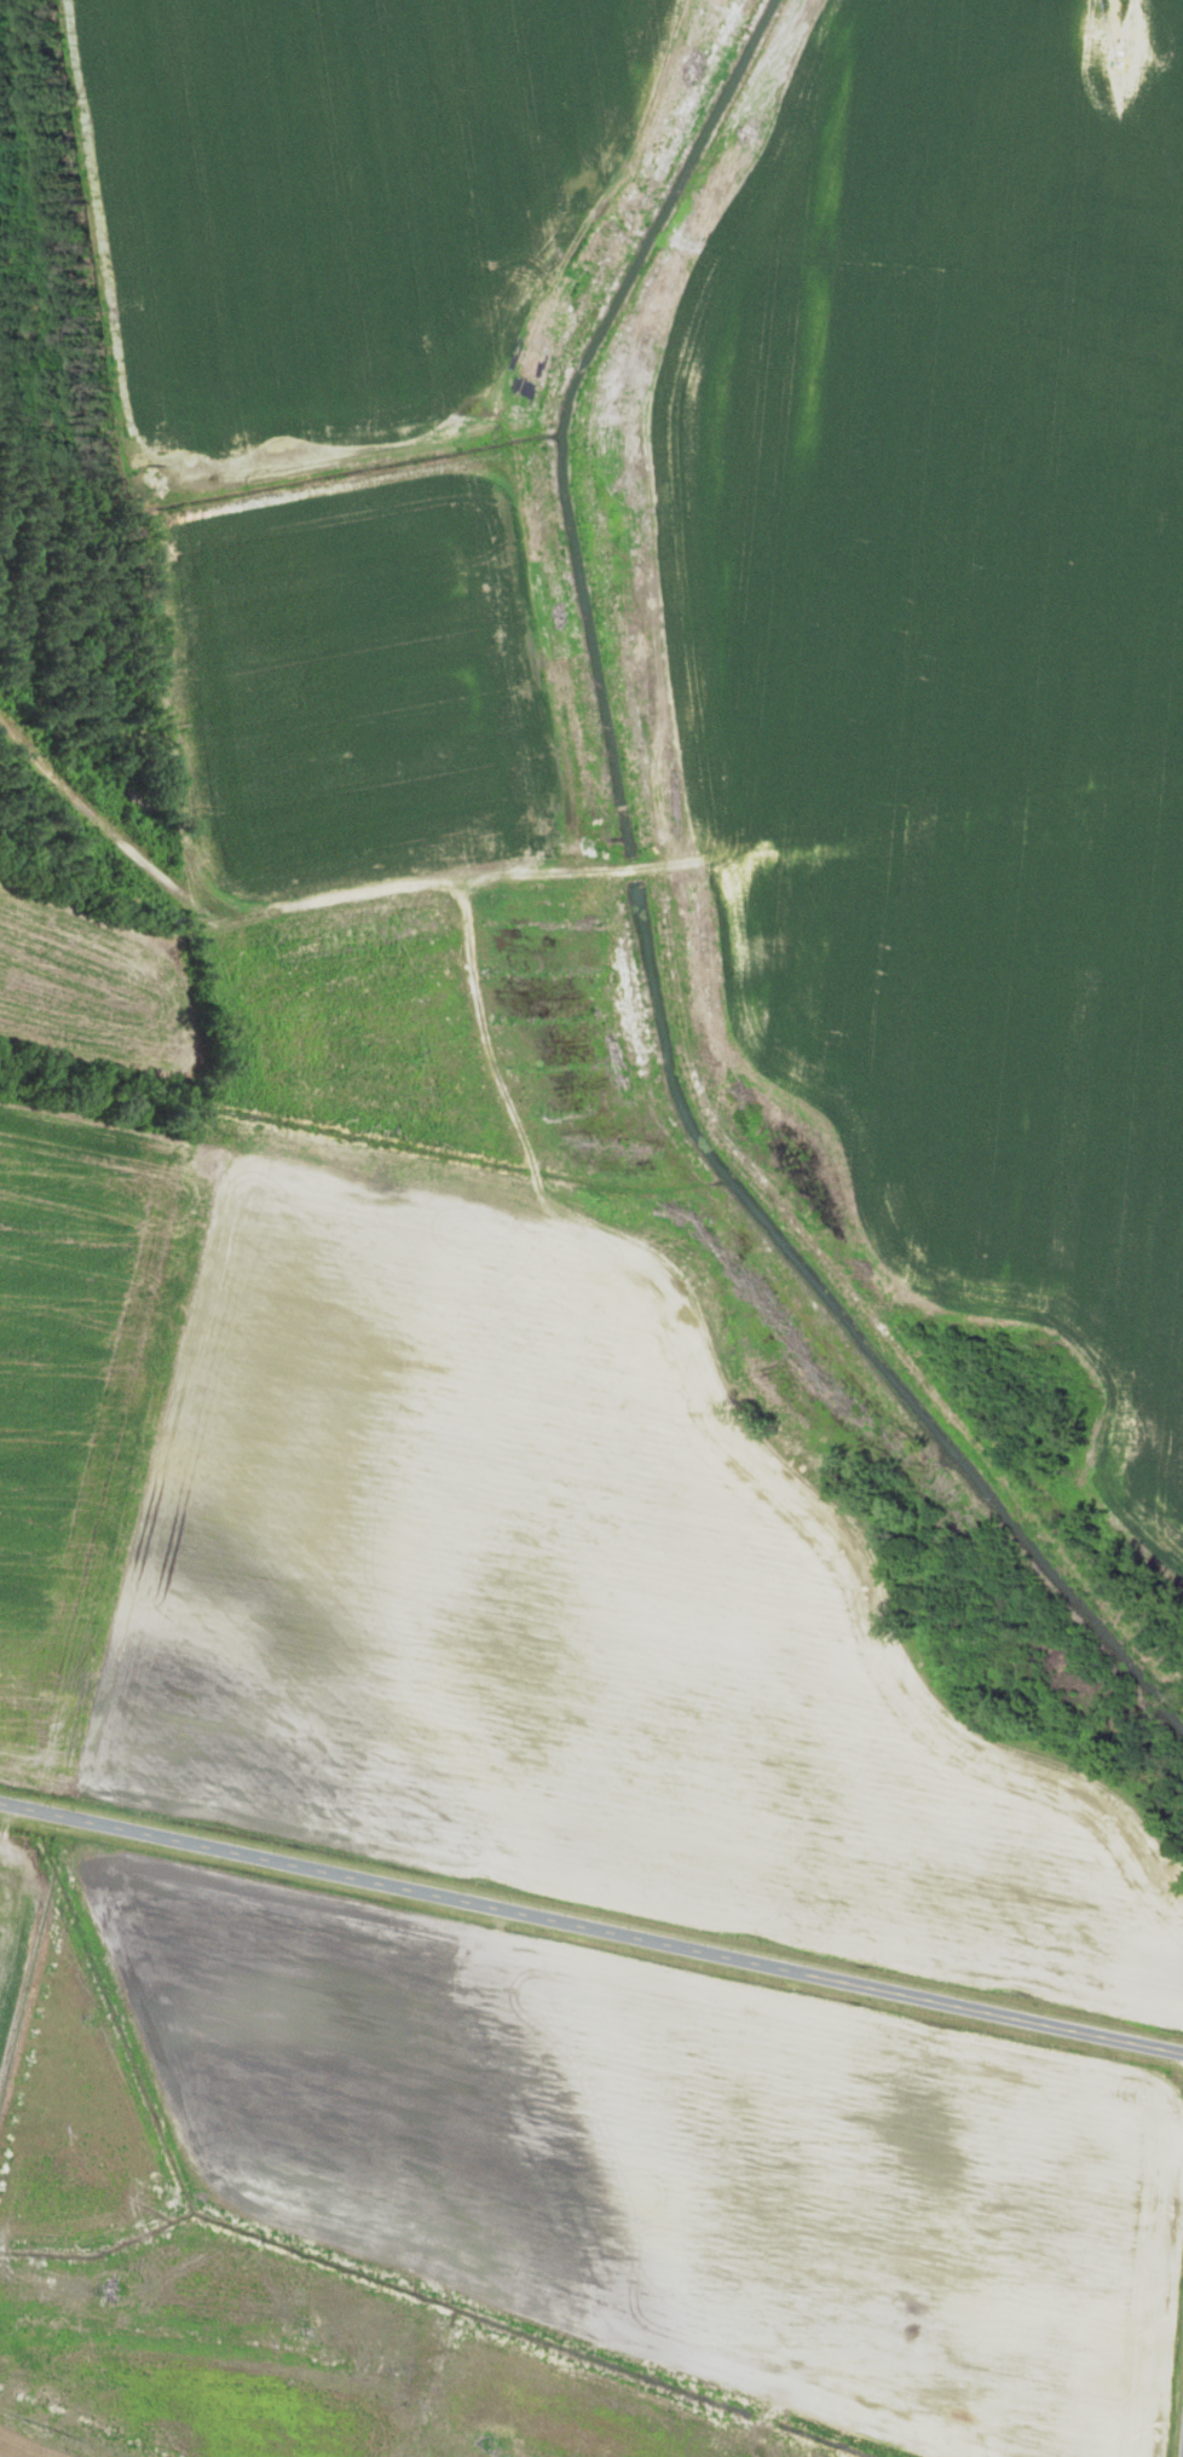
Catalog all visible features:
road: (591, 1937)

